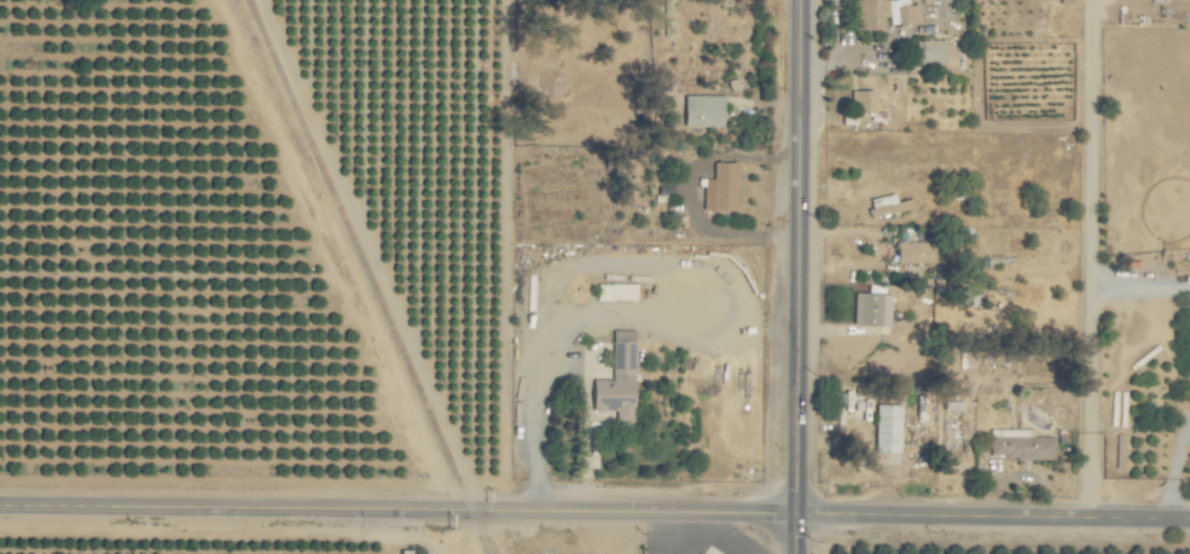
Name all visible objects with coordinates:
building: (1073, 1)
building: (886, 13)
building: (930, 54)
building: (864, 101)
building: (706, 111)
building: (722, 188)
building: (916, 252)
road: (1091, 258)
railway: (368, 276)
crop: (594, 276)
road: (802, 276)
road: (1140, 281)
building: (617, 292)
building: (968, 298)
building: (873, 309)
road: (535, 339)
building: (620, 379)
building: (889, 428)
building: (1021, 445)
road: (1173, 470)
road: (594, 514)
road: (663, 533)

